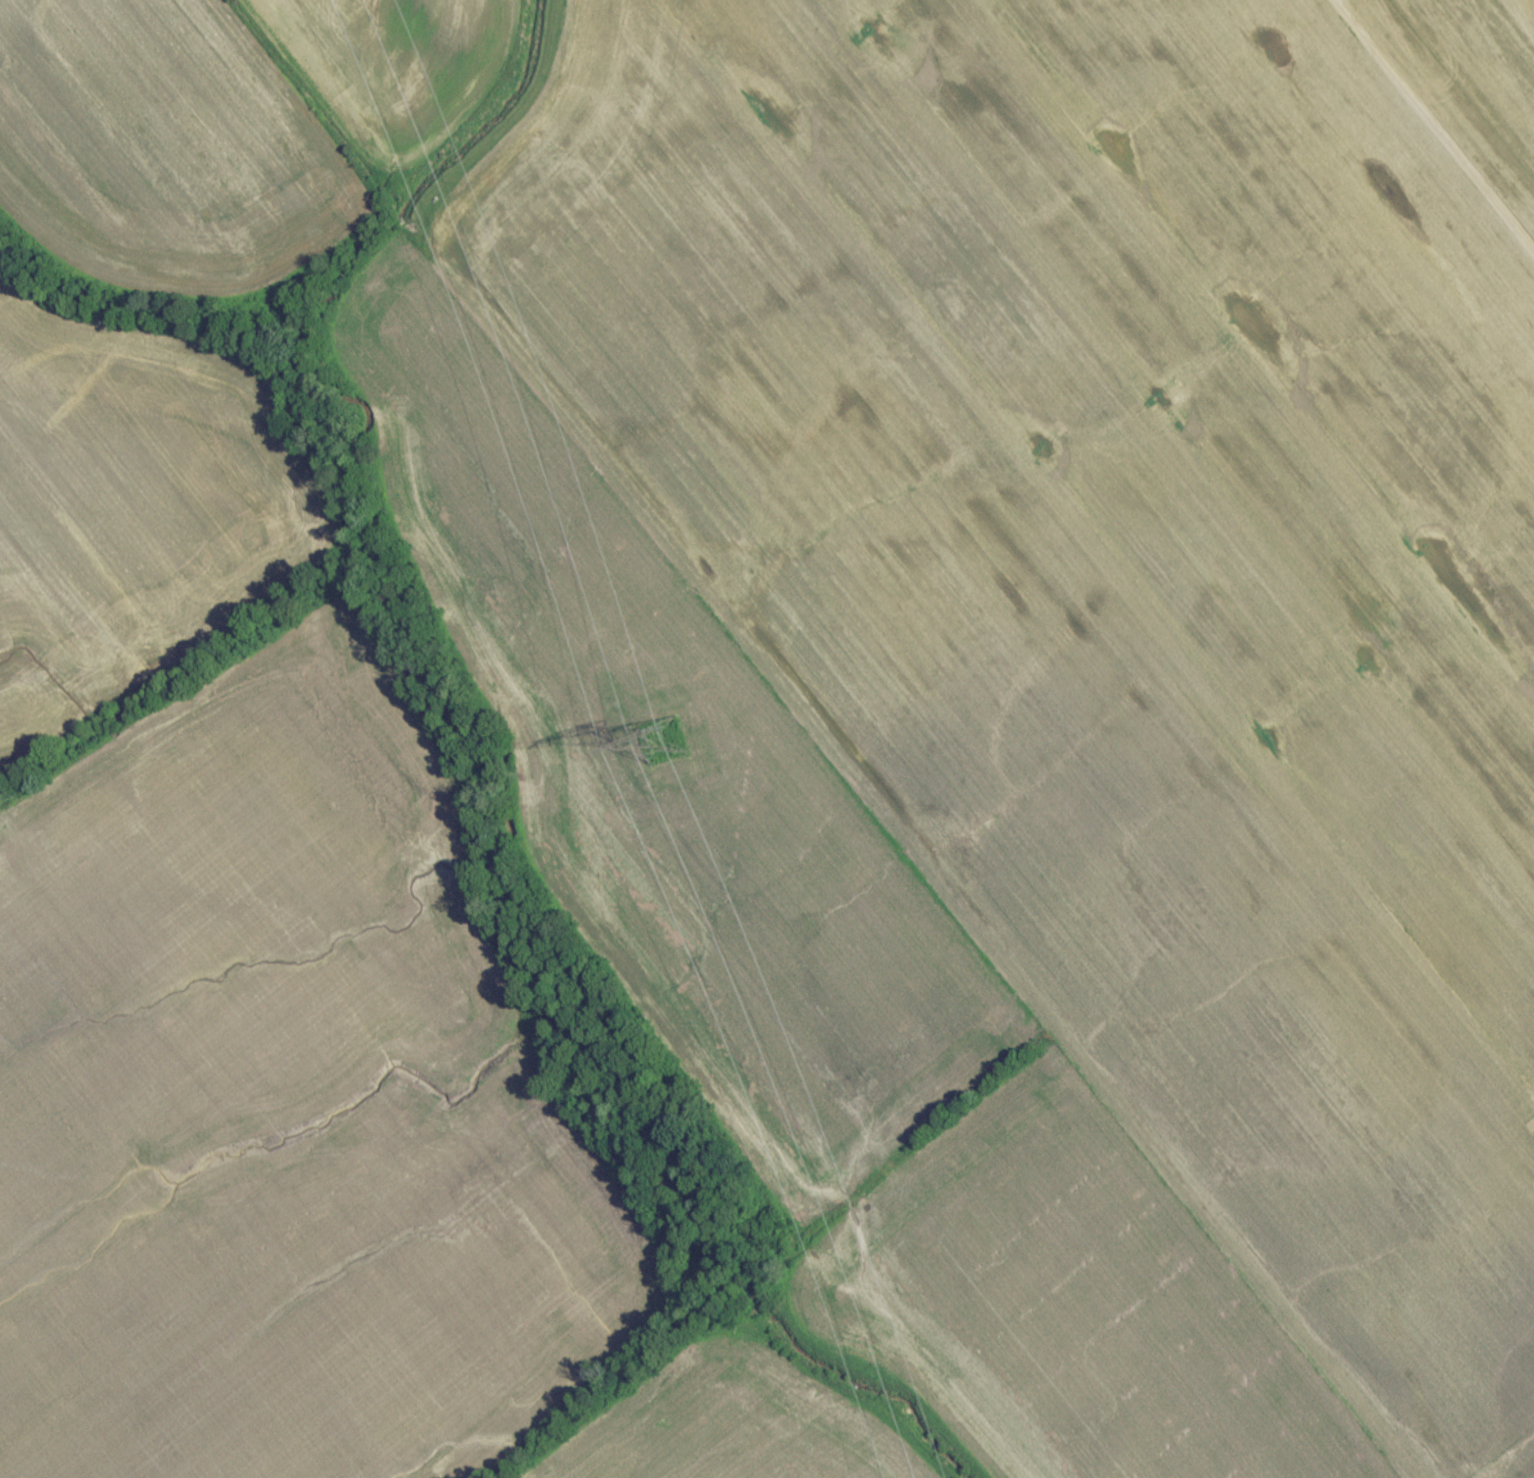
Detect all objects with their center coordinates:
road: (1431, 130)
power tower: (664, 748)

